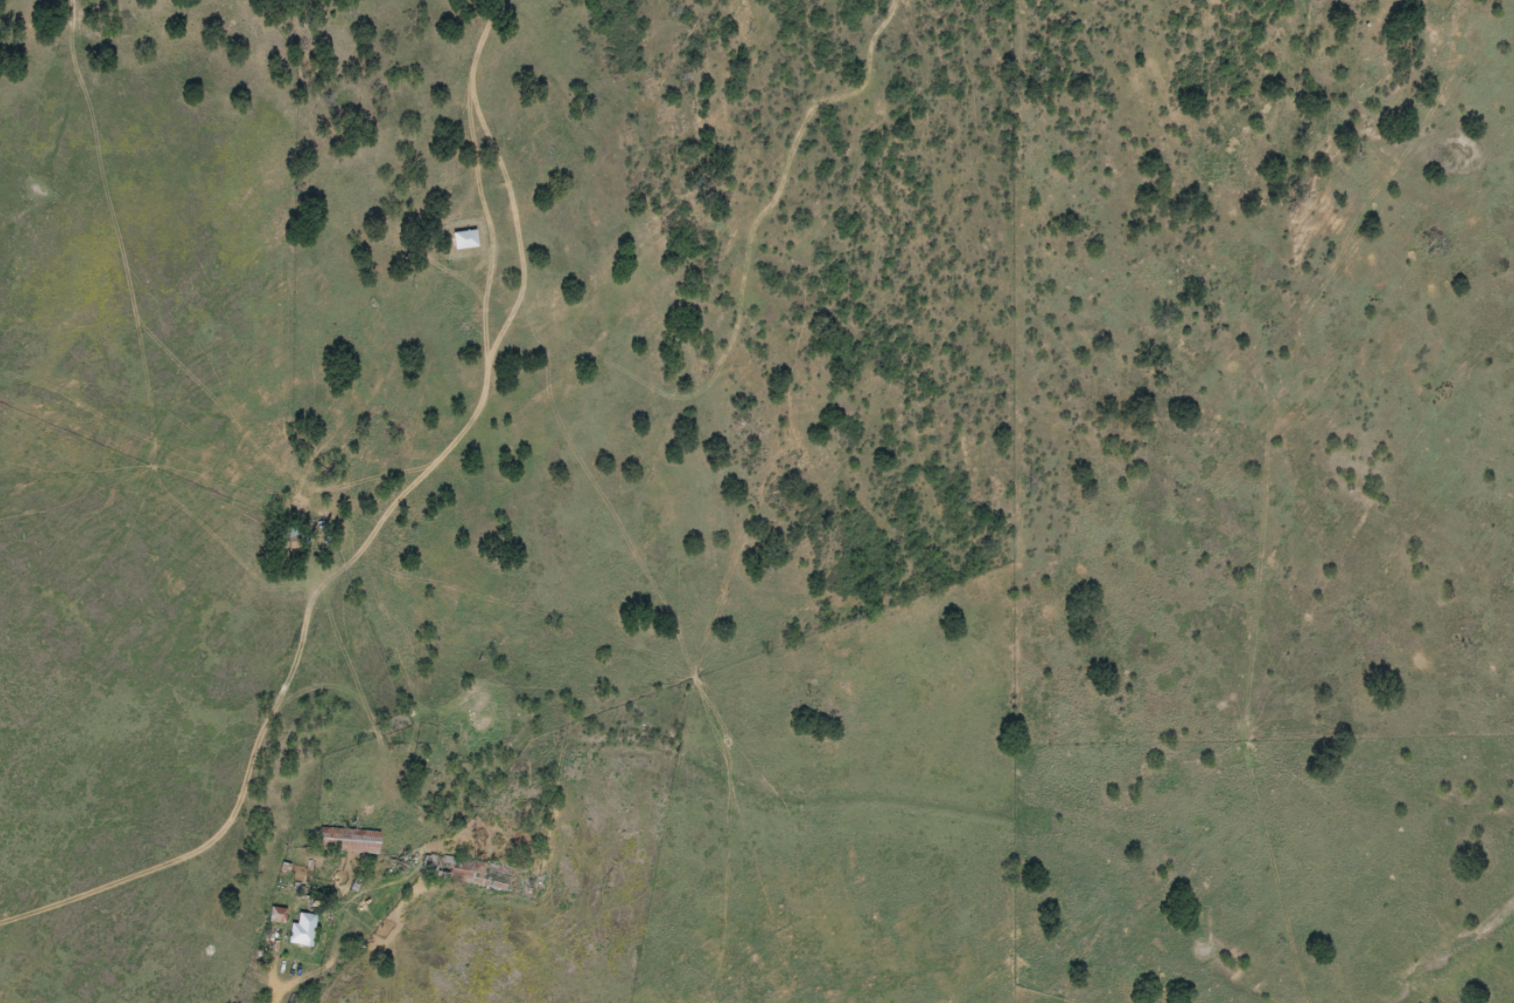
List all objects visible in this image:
road: (369, 529)
power tower: (291, 644)
building: (351, 841)
power tower: (600, 890)
building: (279, 917)
building: (305, 932)
road: (361, 983)

